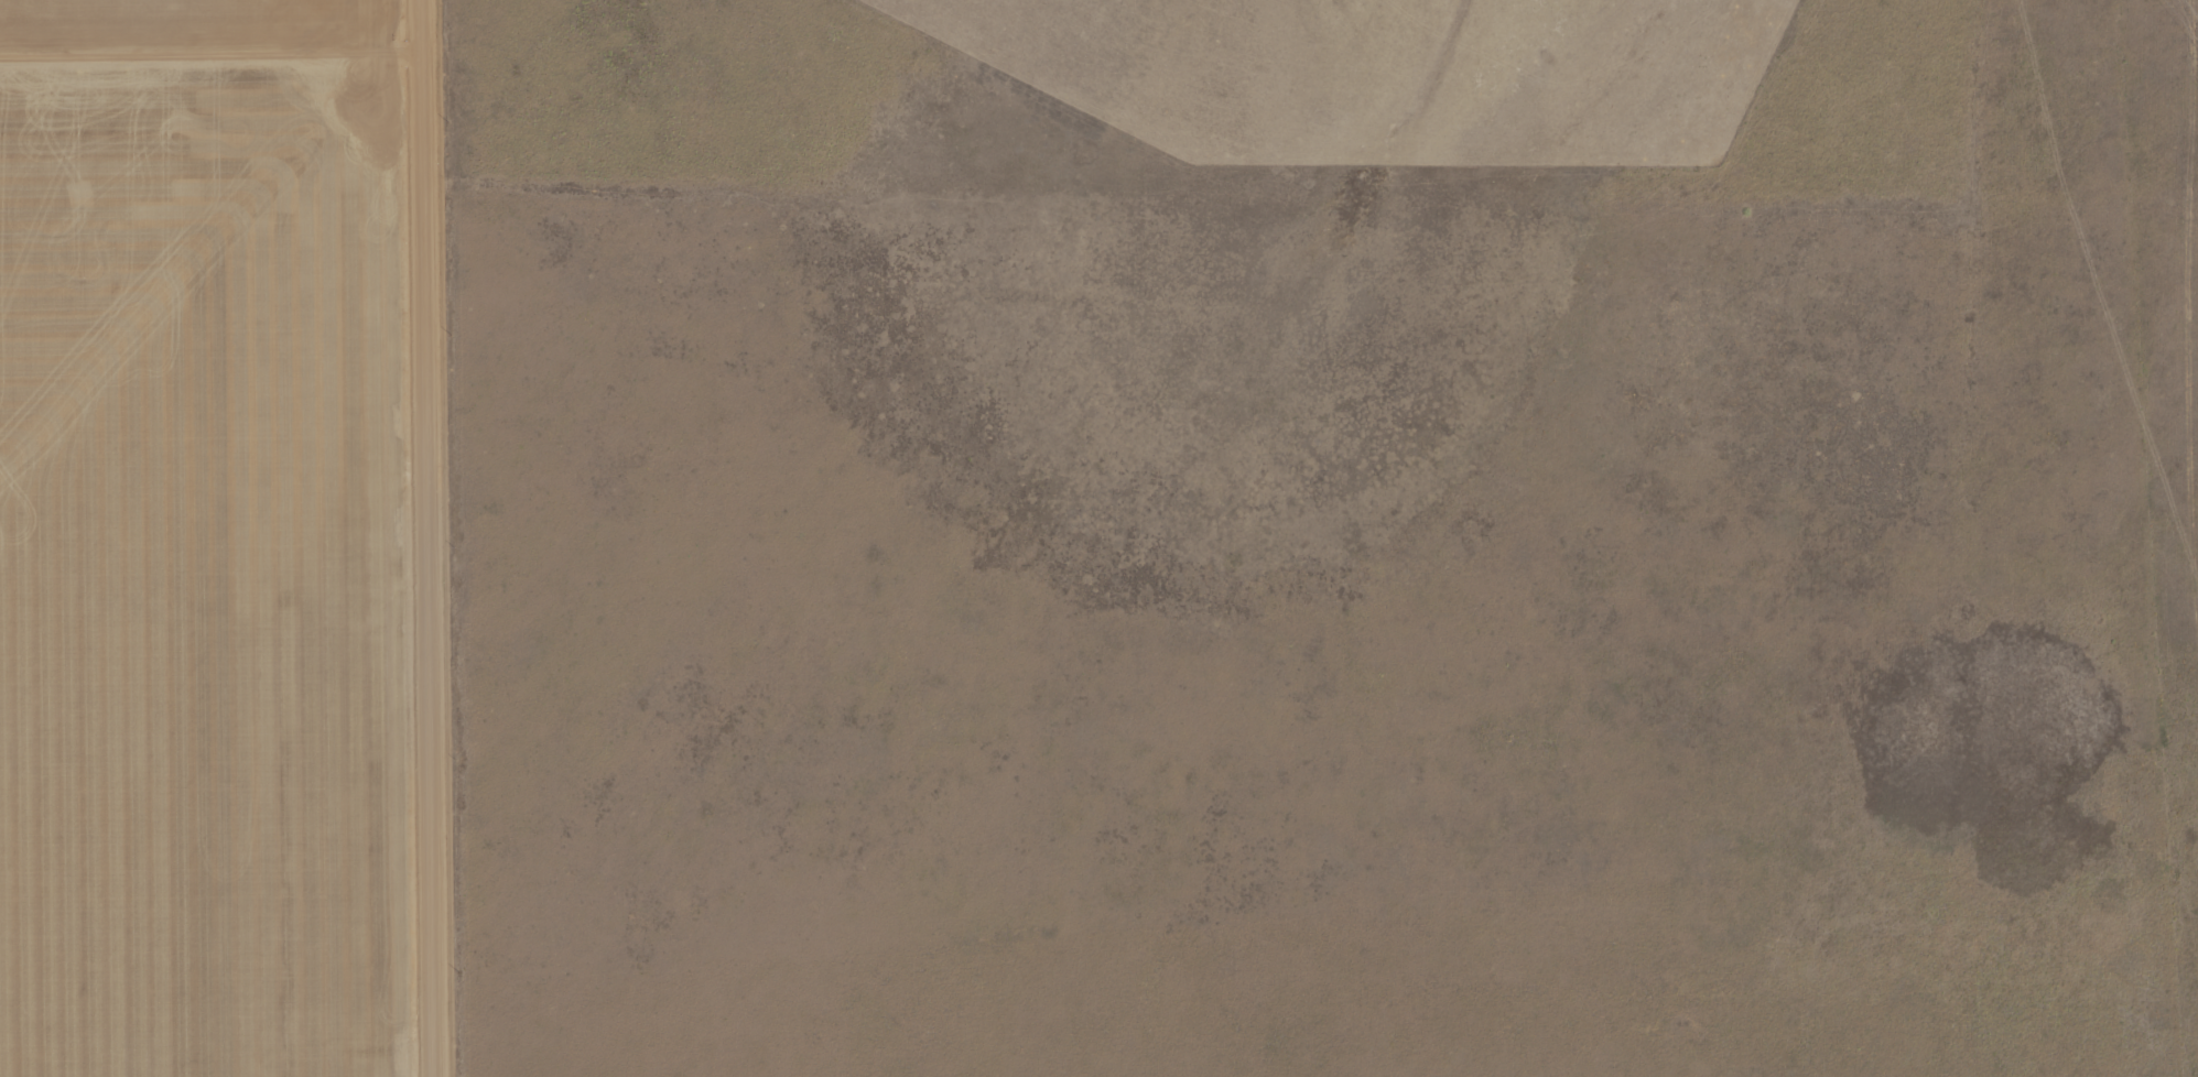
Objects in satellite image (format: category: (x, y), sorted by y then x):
road: (210, 87)
road: (430, 537)

